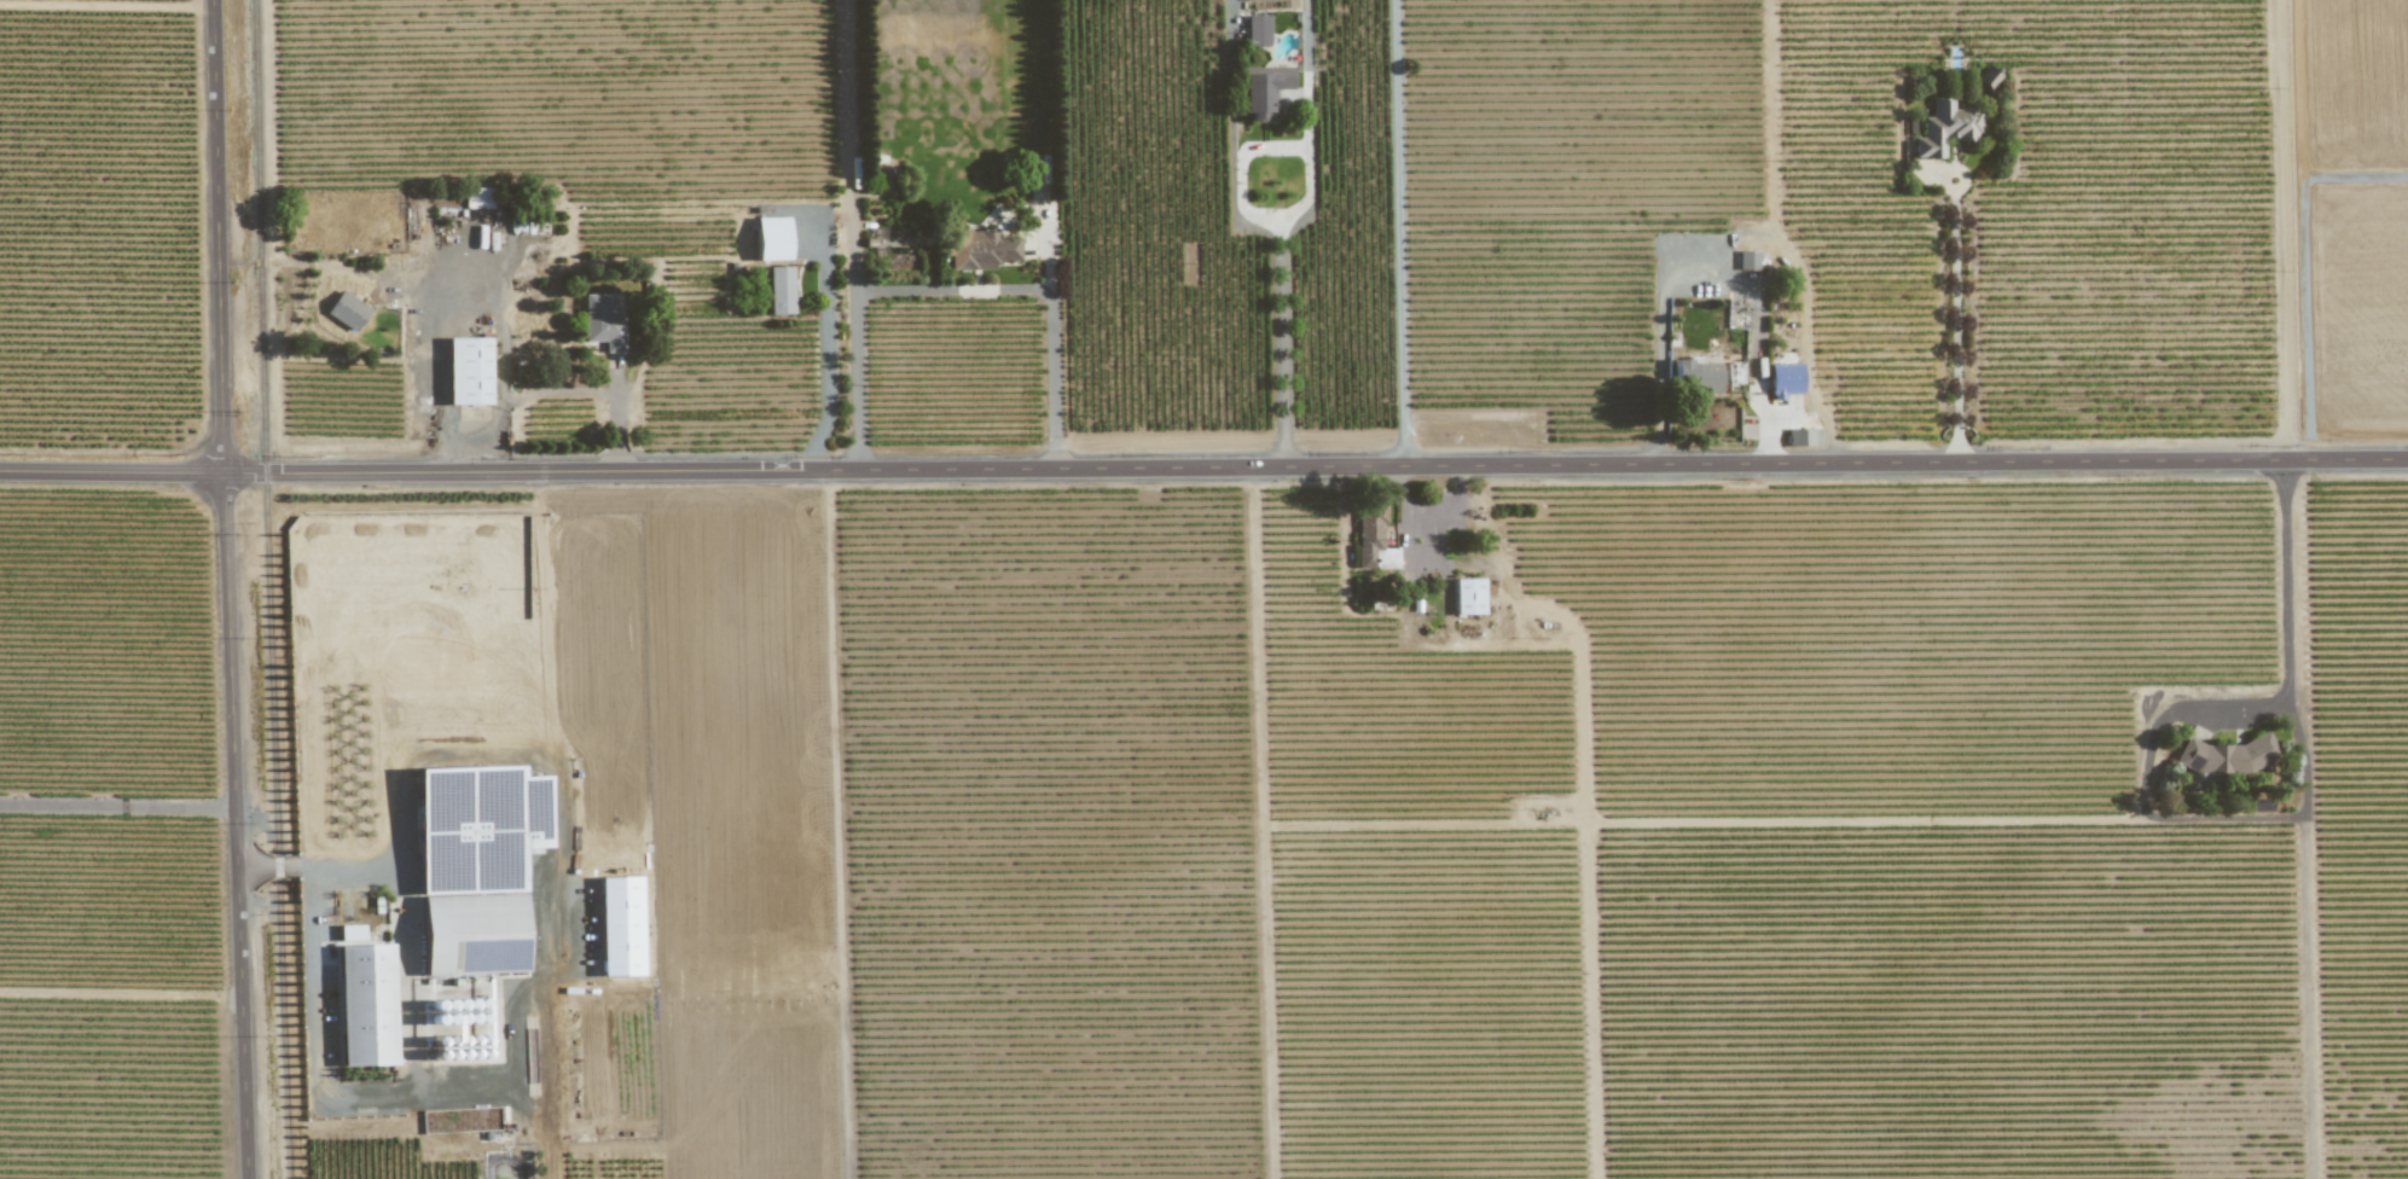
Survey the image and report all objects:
building: (1247, 0)
road: (1230, 14)
building: (1257, 30)
building: (1986, 77)
road: (1306, 88)
building: (1263, 89)
building: (1944, 128)
building: (477, 198)
road: (2290, 231)
road: (1402, 233)
building: (771, 238)
building: (980, 250)
building: (1746, 260)
road: (1701, 263)
building: (779, 290)
road: (953, 294)
building: (346, 310)
road: (1281, 313)
road: (445, 314)
road: (1957, 323)
building: (602, 324)
road: (826, 358)
building: (466, 371)
building: (1694, 378)
building: (1783, 381)
road: (596, 390)
road: (501, 436)
building: (1804, 437)
road: (1203, 469)
building: (1373, 542)
road: (2287, 583)
road: (228, 589)
building: (1467, 597)
building: (2226, 756)
road: (117, 808)
road: (314, 865)
building: (475, 866)
building: (619, 927)
building: (349, 933)
building: (364, 1005)
road: (544, 1081)

